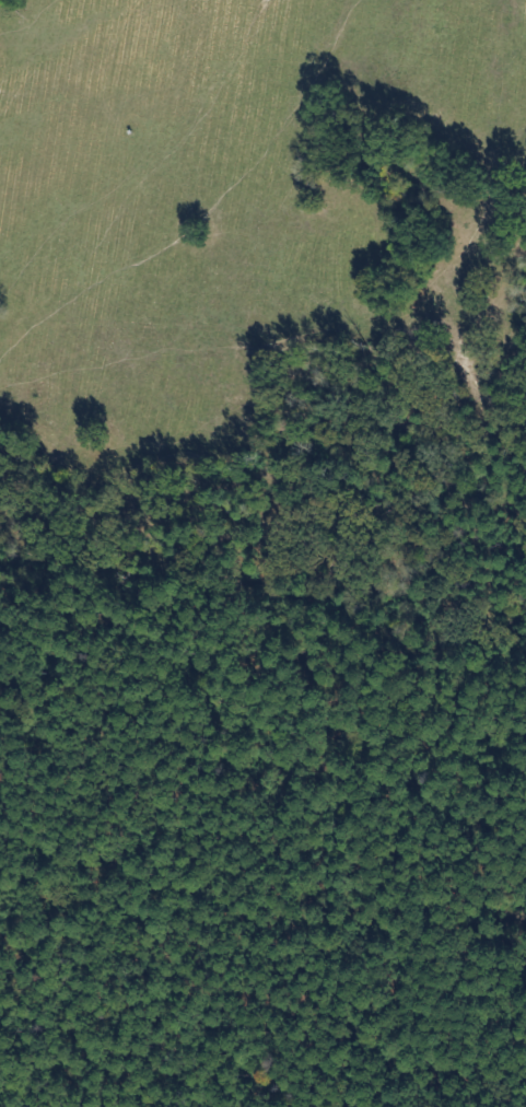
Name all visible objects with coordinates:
road: (253, 888)

